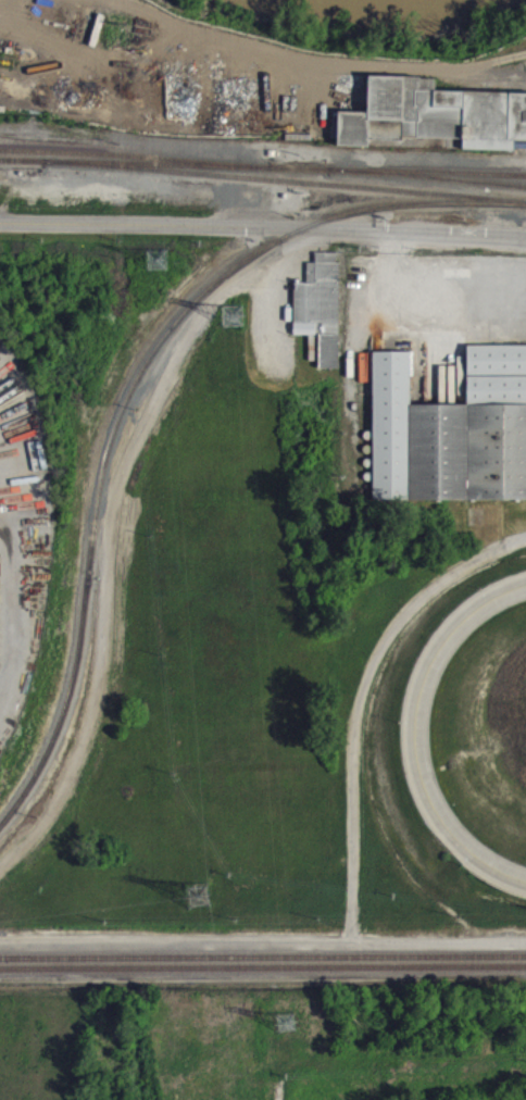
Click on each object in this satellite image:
building: (434, 123)
railway: (127, 164)
railway: (16, 168)
railway: (279, 176)
railway: (434, 186)
railway: (286, 188)
road: (263, 225)
power tower: (159, 258)
road: (415, 274)
building: (322, 315)
power tower: (234, 316)
railway: (133, 398)
building: (452, 439)
road: (417, 704)
road: (499, 868)
road: (354, 887)
power tower: (201, 895)
road: (440, 951)
railway: (263, 955)
railway: (263, 964)
power tower: (292, 1023)

